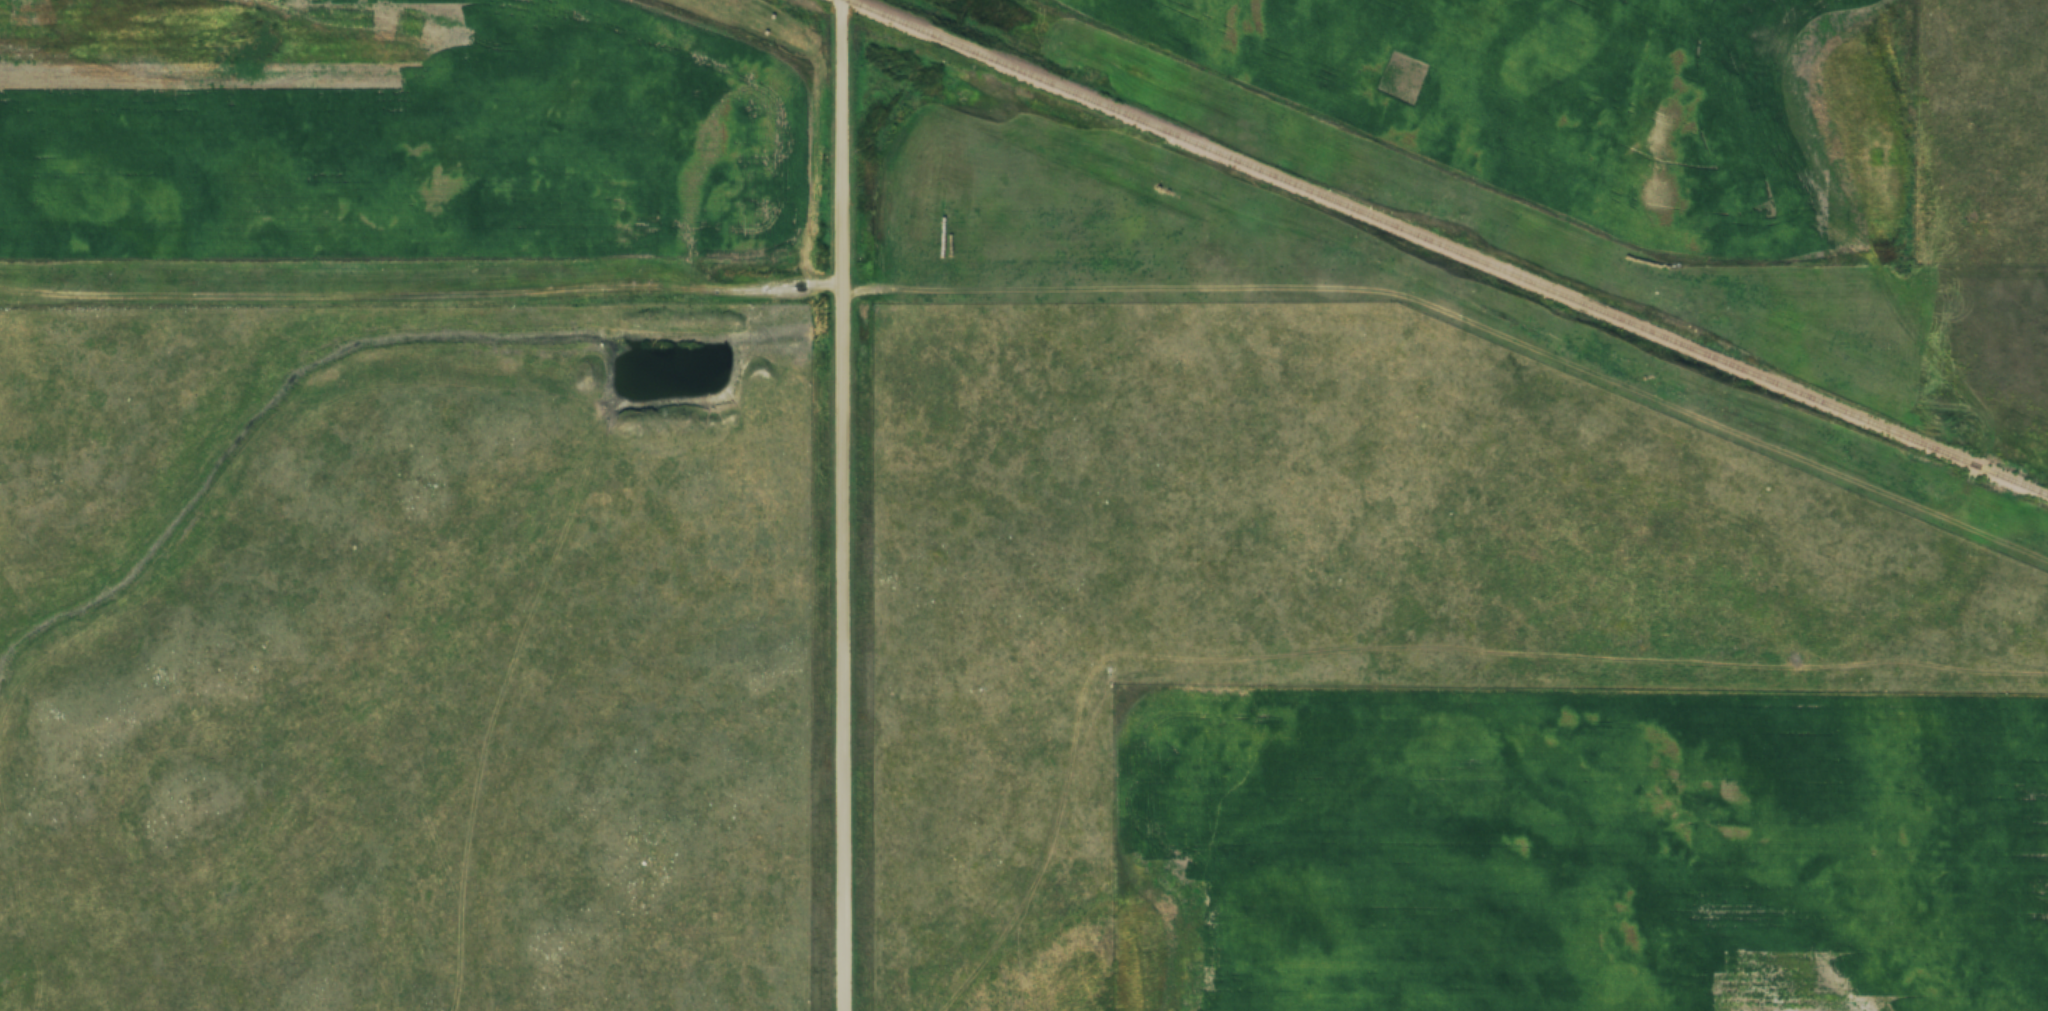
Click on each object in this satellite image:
railway: (1448, 247)
road: (420, 285)
road: (842, 505)

